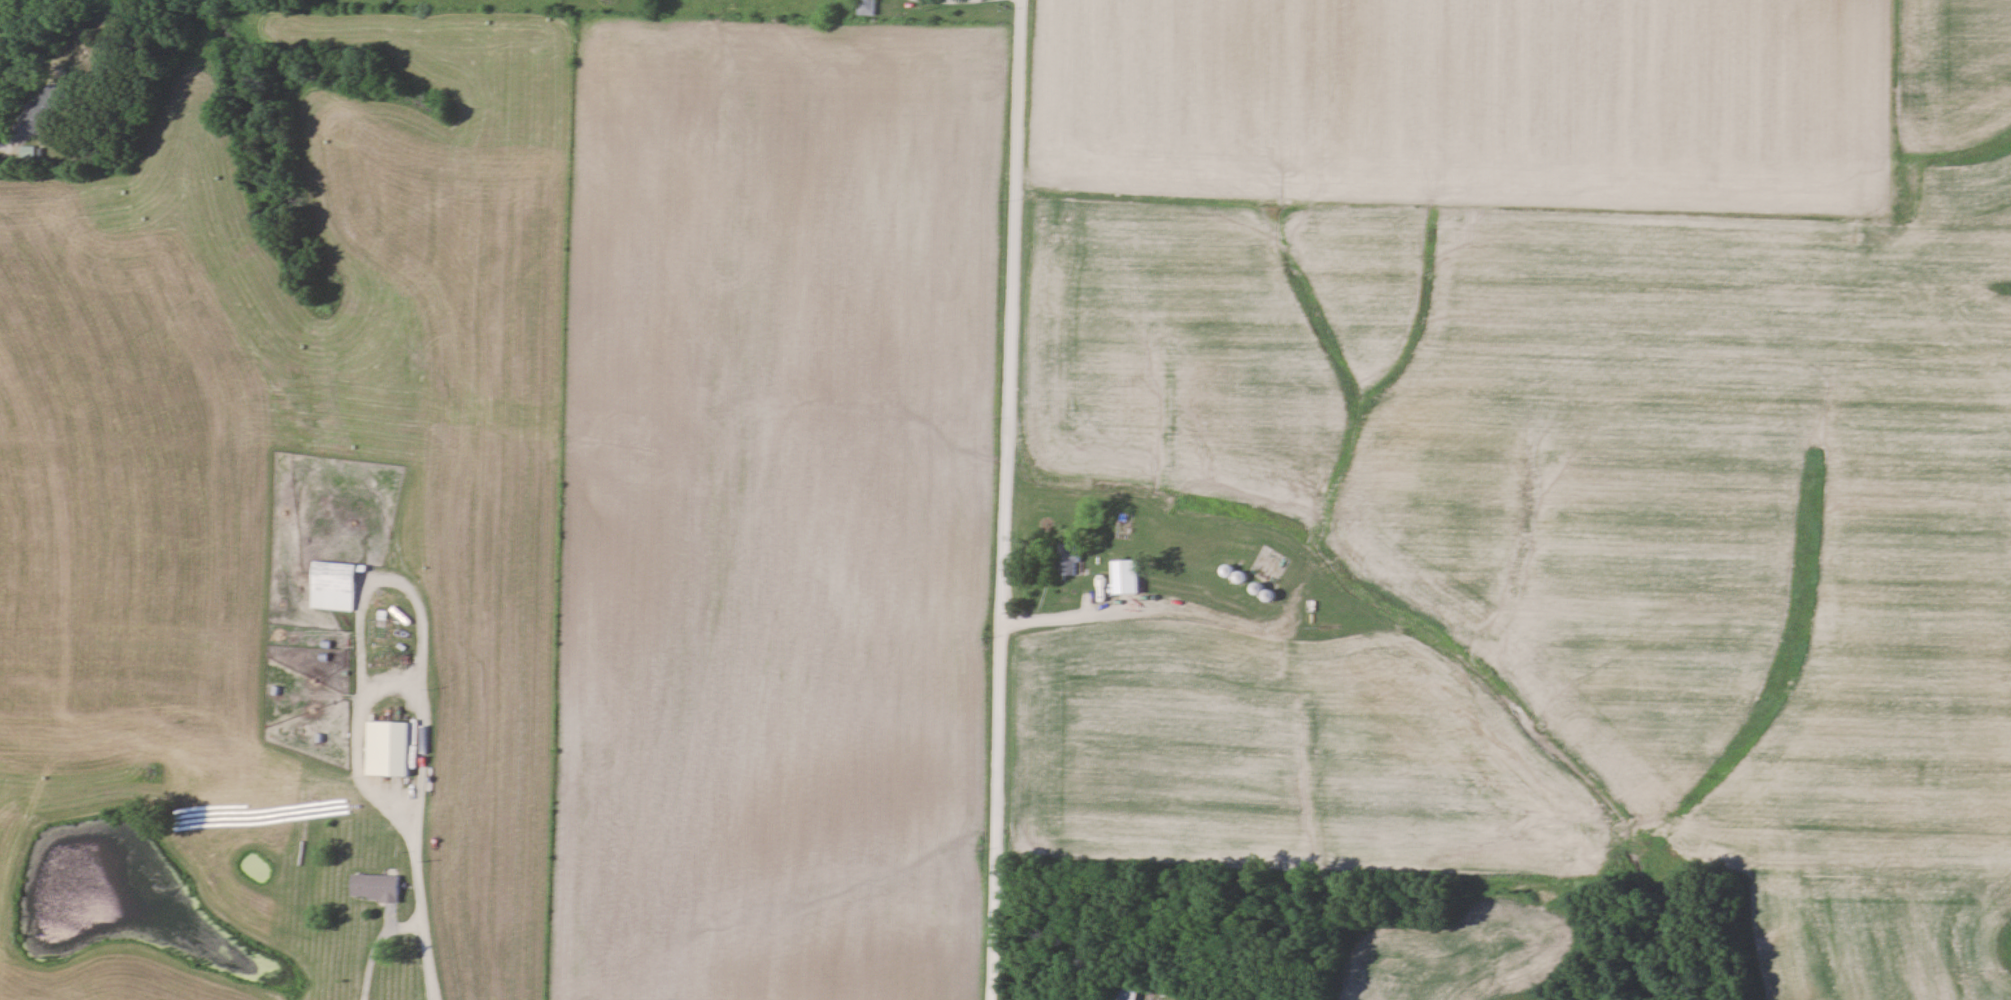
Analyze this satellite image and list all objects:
building: (867, 7)
building: (43, 107)
road: (12, 131)
road: (1002, 500)
building: (1068, 560)
building: (1126, 577)
building: (333, 587)
building: (389, 749)
road: (413, 833)
building: (375, 887)
road: (377, 944)
building: (1125, 992)

